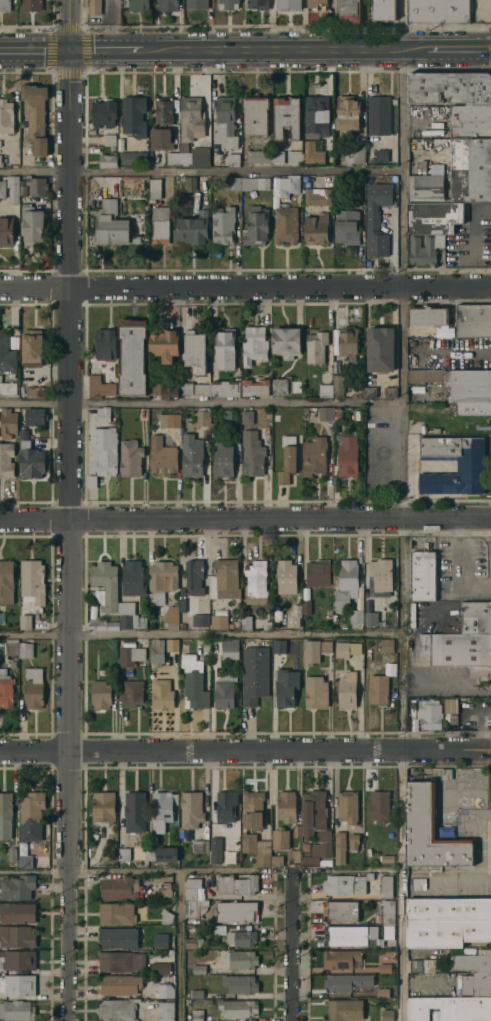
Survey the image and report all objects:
building: (197, 4)
building: (228, 4)
building: (258, 4)
building: (317, 4)
building: (5, 5)
building: (31, 5)
building: (139, 5)
building: (167, 5)
building: (289, 5)
building: (95, 7)
building: (383, 10)
building: (349, 11)
building: (440, 11)
road: (274, 48)
road: (446, 48)
road: (34, 49)
traffic signals: (69, 49)
road: (108, 49)
building: (450, 87)
building: (165, 109)
building: (347, 112)
building: (104, 113)
building: (316, 113)
building: (255, 115)
building: (378, 115)
building: (6, 116)
building: (36, 116)
building: (133, 116)
building: (287, 116)
building: (191, 118)
building: (471, 121)
building: (225, 122)
building: (161, 138)
building: (109, 139)
building: (0, 144)
building: (355, 153)
building: (195, 154)
building: (382, 155)
building: (259, 156)
building: (278, 156)
building: (295, 156)
building: (133, 157)
building: (173, 158)
building: (329, 158)
building: (233, 159)
building: (109, 160)
building: (1, 161)
road: (200, 172)
building: (458, 175)
building: (190, 183)
building: (235, 183)
building: (255, 183)
building: (36, 185)
building: (289, 185)
building: (2, 188)
building: (13, 189)
building: (155, 189)
building: (23, 190)
building: (317, 196)
building: (376, 217)
building: (434, 217)
building: (106, 222)
building: (32, 224)
building: (161, 224)
building: (223, 225)
building: (256, 225)
building: (286, 225)
building: (347, 226)
building: (316, 229)
building: (6, 230)
building: (192, 230)
building: (126, 232)
building: (425, 248)
road: (401, 256)
road: (245, 282)
building: (428, 315)
building: (473, 320)
building: (15, 341)
building: (286, 341)
building: (348, 341)
building: (164, 343)
building: (105, 344)
building: (254, 345)
building: (316, 346)
building: (32, 347)
building: (225, 349)
building: (380, 349)
building: (195, 350)
road: (456, 351)
building: (6, 354)
building: (132, 357)
building: (422, 377)
building: (285, 385)
building: (338, 385)
building: (470, 385)
building: (100, 386)
building: (255, 387)
building: (9, 388)
building: (195, 388)
building: (226, 388)
building: (325, 390)
building: (164, 391)
building: (370, 391)
building: (390, 391)
building: (33, 392)
road: (200, 403)
building: (473, 408)
building: (326, 413)
building: (337, 413)
building: (103, 414)
building: (227, 415)
building: (35, 417)
building: (203, 417)
building: (247, 417)
building: (276, 417)
building: (169, 420)
building: (8, 421)
building: (214, 428)
building: (104, 450)
building: (252, 453)
building: (192, 455)
building: (314, 455)
building: (348, 455)
building: (162, 456)
building: (30, 457)
building: (130, 458)
building: (7, 459)
building: (223, 459)
building: (287, 459)
building: (470, 466)
road: (69, 510)
road: (446, 514)
road: (200, 515)
building: (318, 572)
building: (286, 575)
building: (422, 575)
building: (163, 576)
building: (194, 576)
building: (380, 577)
building: (133, 578)
building: (224, 579)
building: (6, 581)
building: (32, 581)
building: (256, 582)
building: (348, 583)
building: (106, 584)
building: (152, 599)
building: (277, 602)
building: (307, 607)
building: (296, 610)
building: (127, 615)
building: (171, 616)
building: (356, 618)
building: (473, 618)
building: (203, 620)
building: (372, 620)
building: (25, 621)
building: (142, 622)
building: (219, 622)
building: (246, 622)
building: (102, 624)
building: (182, 625)
building: (267, 625)
road: (200, 633)
building: (172, 644)
building: (230, 645)
building: (279, 645)
building: (387, 645)
building: (326, 646)
building: (12, 647)
building: (182, 647)
building: (456, 648)
building: (346, 649)
building: (26, 650)
building: (311, 651)
building: (157, 652)
building: (131, 655)
building: (129, 672)
building: (255, 674)
building: (194, 683)
building: (286, 686)
building: (33, 688)
building: (6, 689)
building: (378, 689)
building: (348, 690)
building: (316, 692)
building: (102, 693)
building: (132, 693)
building: (162, 694)
building: (224, 694)
building: (450, 705)
building: (430, 714)
building: (447, 718)
road: (245, 749)
road: (403, 767)
building: (446, 773)
building: (226, 806)
building: (287, 806)
building: (348, 806)
building: (379, 806)
building: (103, 807)
building: (163, 809)
building: (191, 810)
building: (253, 810)
building: (135, 811)
building: (5, 814)
building: (315, 815)
building: (31, 816)
building: (296, 830)
building: (430, 830)
building: (445, 831)
building: (181, 834)
building: (94, 836)
building: (280, 839)
building: (353, 841)
building: (215, 843)
building: (200, 845)
building: (340, 847)
building: (256, 849)
building: (317, 853)
building: (12, 854)
building: (124, 854)
building: (163, 854)
building: (294, 856)
building: (387, 858)
building: (277, 860)
building: (26, 861)
road: (289, 870)
road: (89, 871)
building: (418, 883)
building: (237, 884)
building: (346, 884)
building: (386, 886)
building: (17, 887)
building: (119, 887)
building: (192, 887)
building: (165, 889)
building: (196, 907)
building: (342, 911)
building: (388, 911)
building: (17, 912)
building: (237, 912)
building: (116, 913)
building: (166, 917)
building: (447, 921)
building: (219, 929)
building: (17, 935)
building: (358, 935)
building: (117, 936)
building: (160, 938)
building: (242, 938)
building: (194, 942)
road: (290, 945)
road: (179, 946)
building: (190, 956)
building: (17, 957)
building: (340, 958)
building: (240, 959)
building: (121, 960)
building: (471, 961)
building: (422, 964)
building: (160, 966)
building: (384, 966)
building: (198, 968)
building: (385, 979)
building: (346, 981)
building: (17, 983)
building: (120, 984)
building: (240, 984)
building: (476, 984)
building: (163, 988)
building: (385, 991)
building: (195, 993)
building: (16, 1008)
building: (116, 1008)
building: (237, 1008)
building: (450, 1008)
building: (344, 1009)
building: (165, 1010)
building: (196, 1014)
building: (387, 1014)

